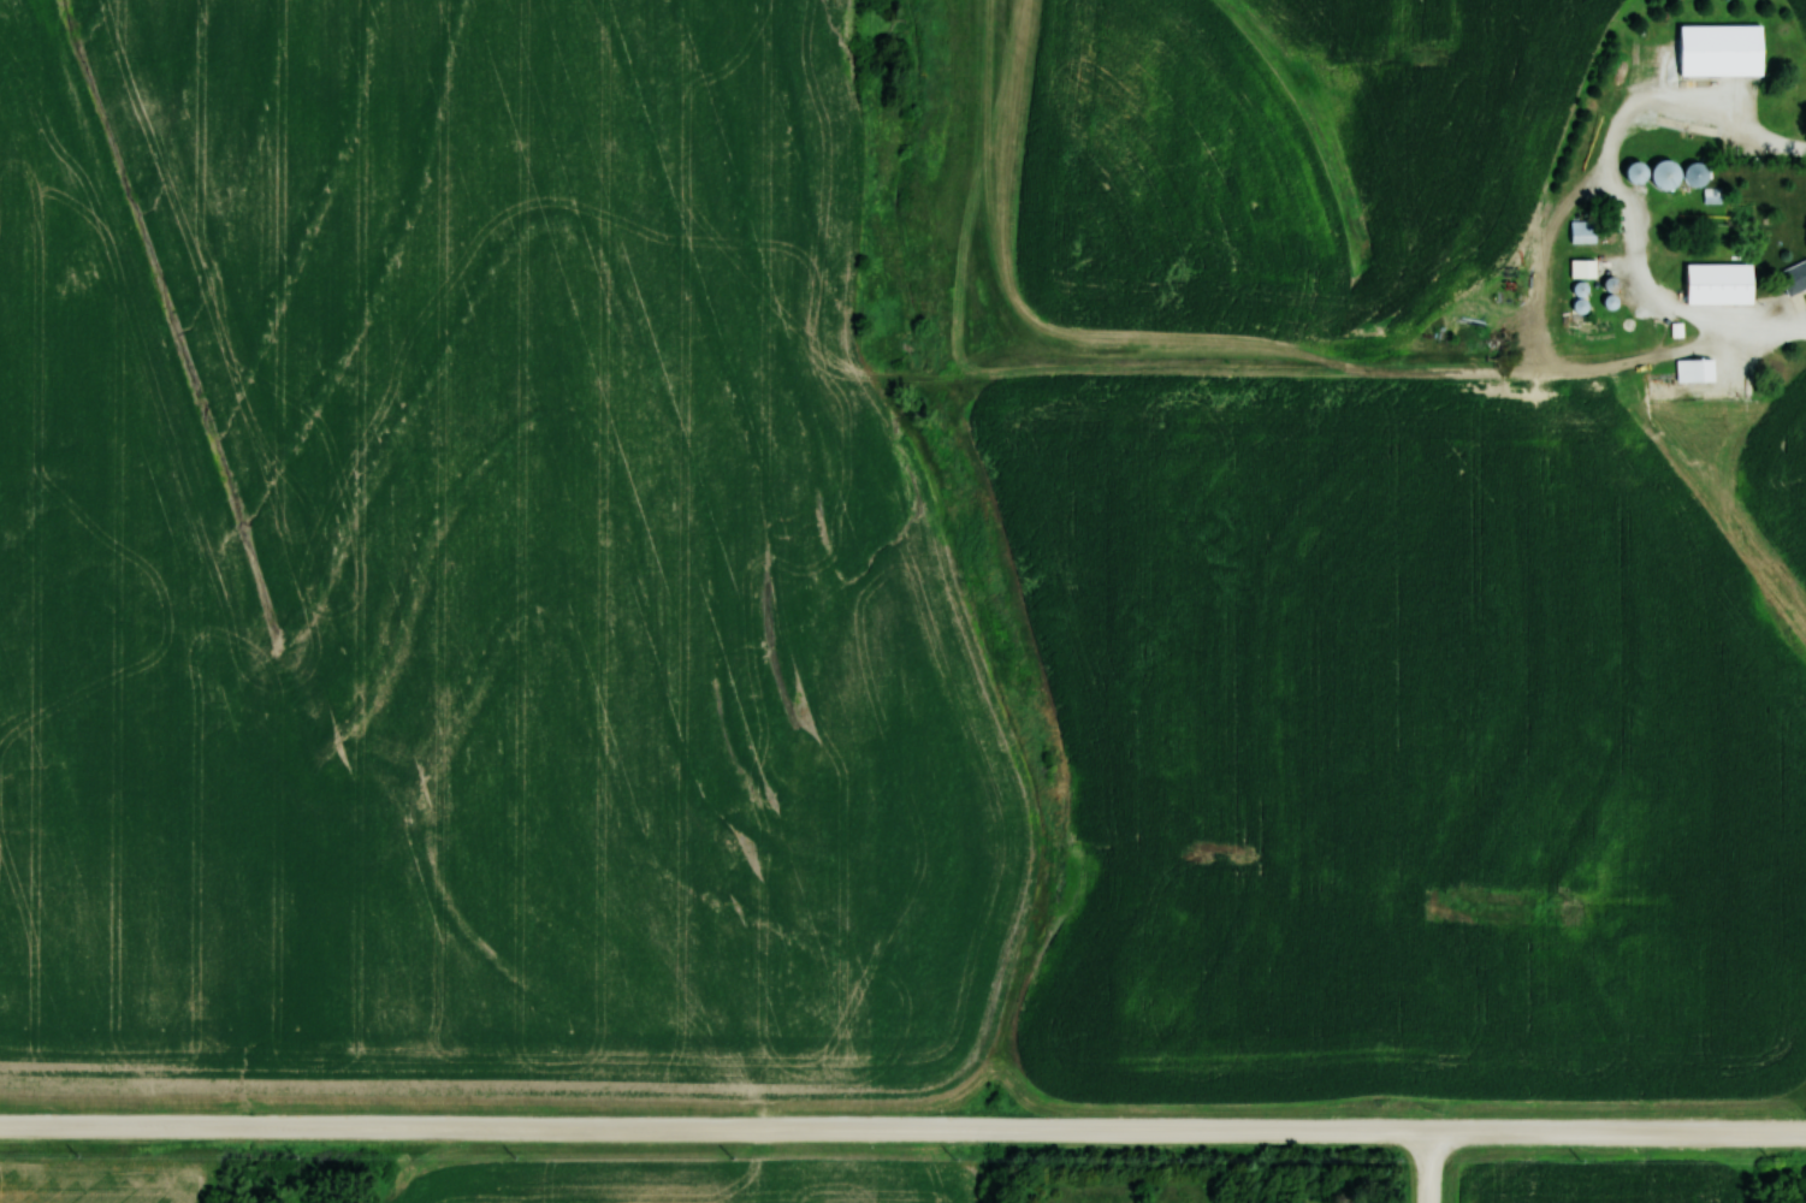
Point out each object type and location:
building: (1717, 49)
building: (1651, 173)
building: (1693, 174)
road: (1616, 188)
building: (1712, 196)
building: (1582, 232)
building: (1581, 268)
building: (1795, 277)
building: (1717, 284)
building: (1692, 371)
road: (787, 1130)
road: (1463, 1132)
road: (1689, 1133)
road: (1423, 1167)

